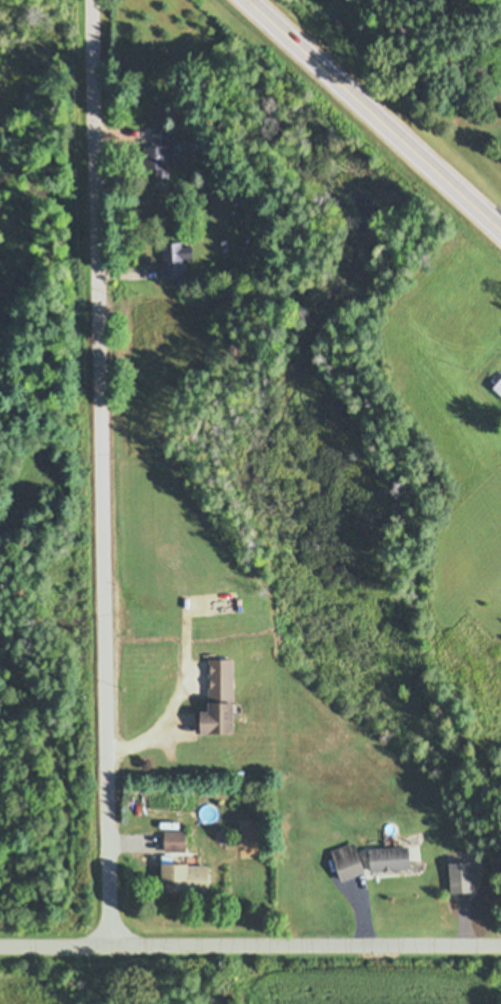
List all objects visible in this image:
road: (375, 113)
building: (161, 153)
building: (177, 258)
road: (99, 473)
building: (221, 699)
building: (177, 840)
building: (393, 858)
building: (351, 860)
building: (189, 878)
road: (250, 945)

